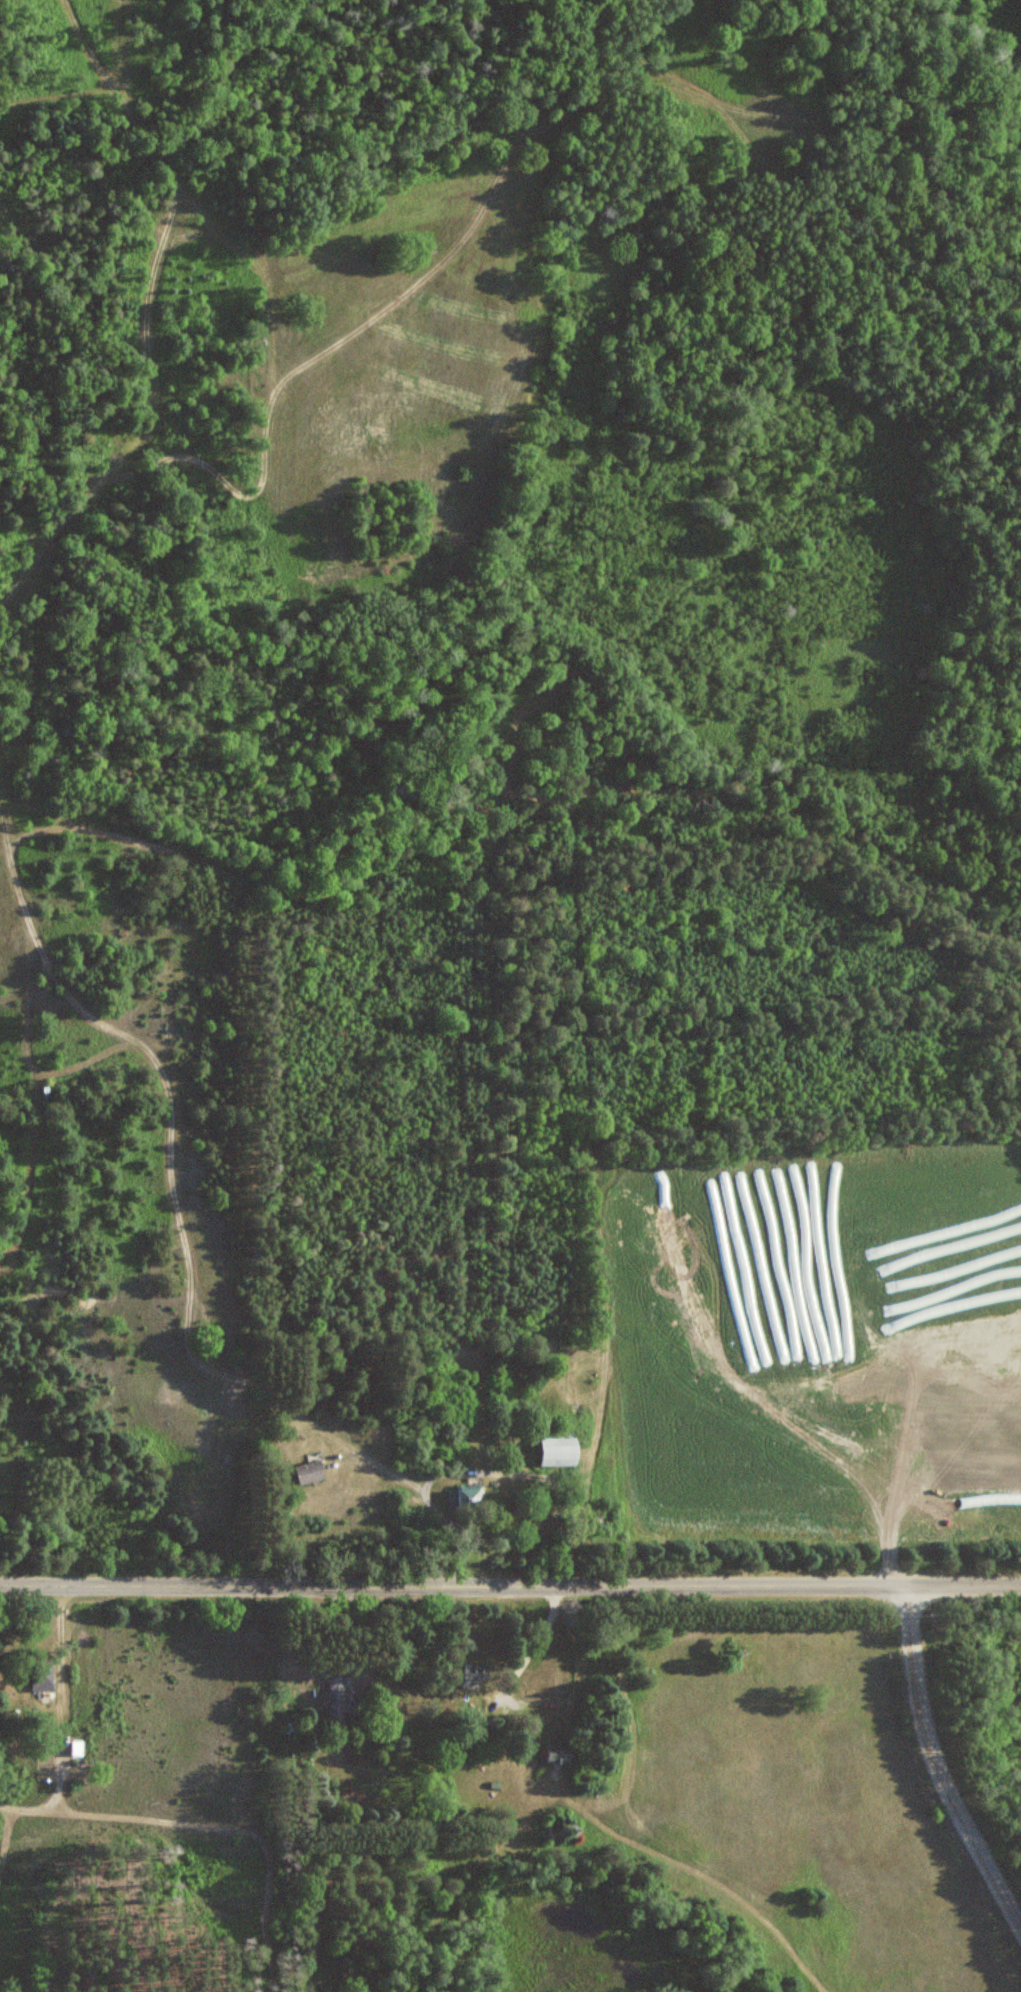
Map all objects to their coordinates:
building: (563, 1451)
building: (311, 1471)
building: (470, 1495)
road: (510, 1583)
building: (473, 1673)
building: (43, 1674)
building: (345, 1701)
building: (80, 1748)
building: (557, 1756)
road: (937, 1762)

